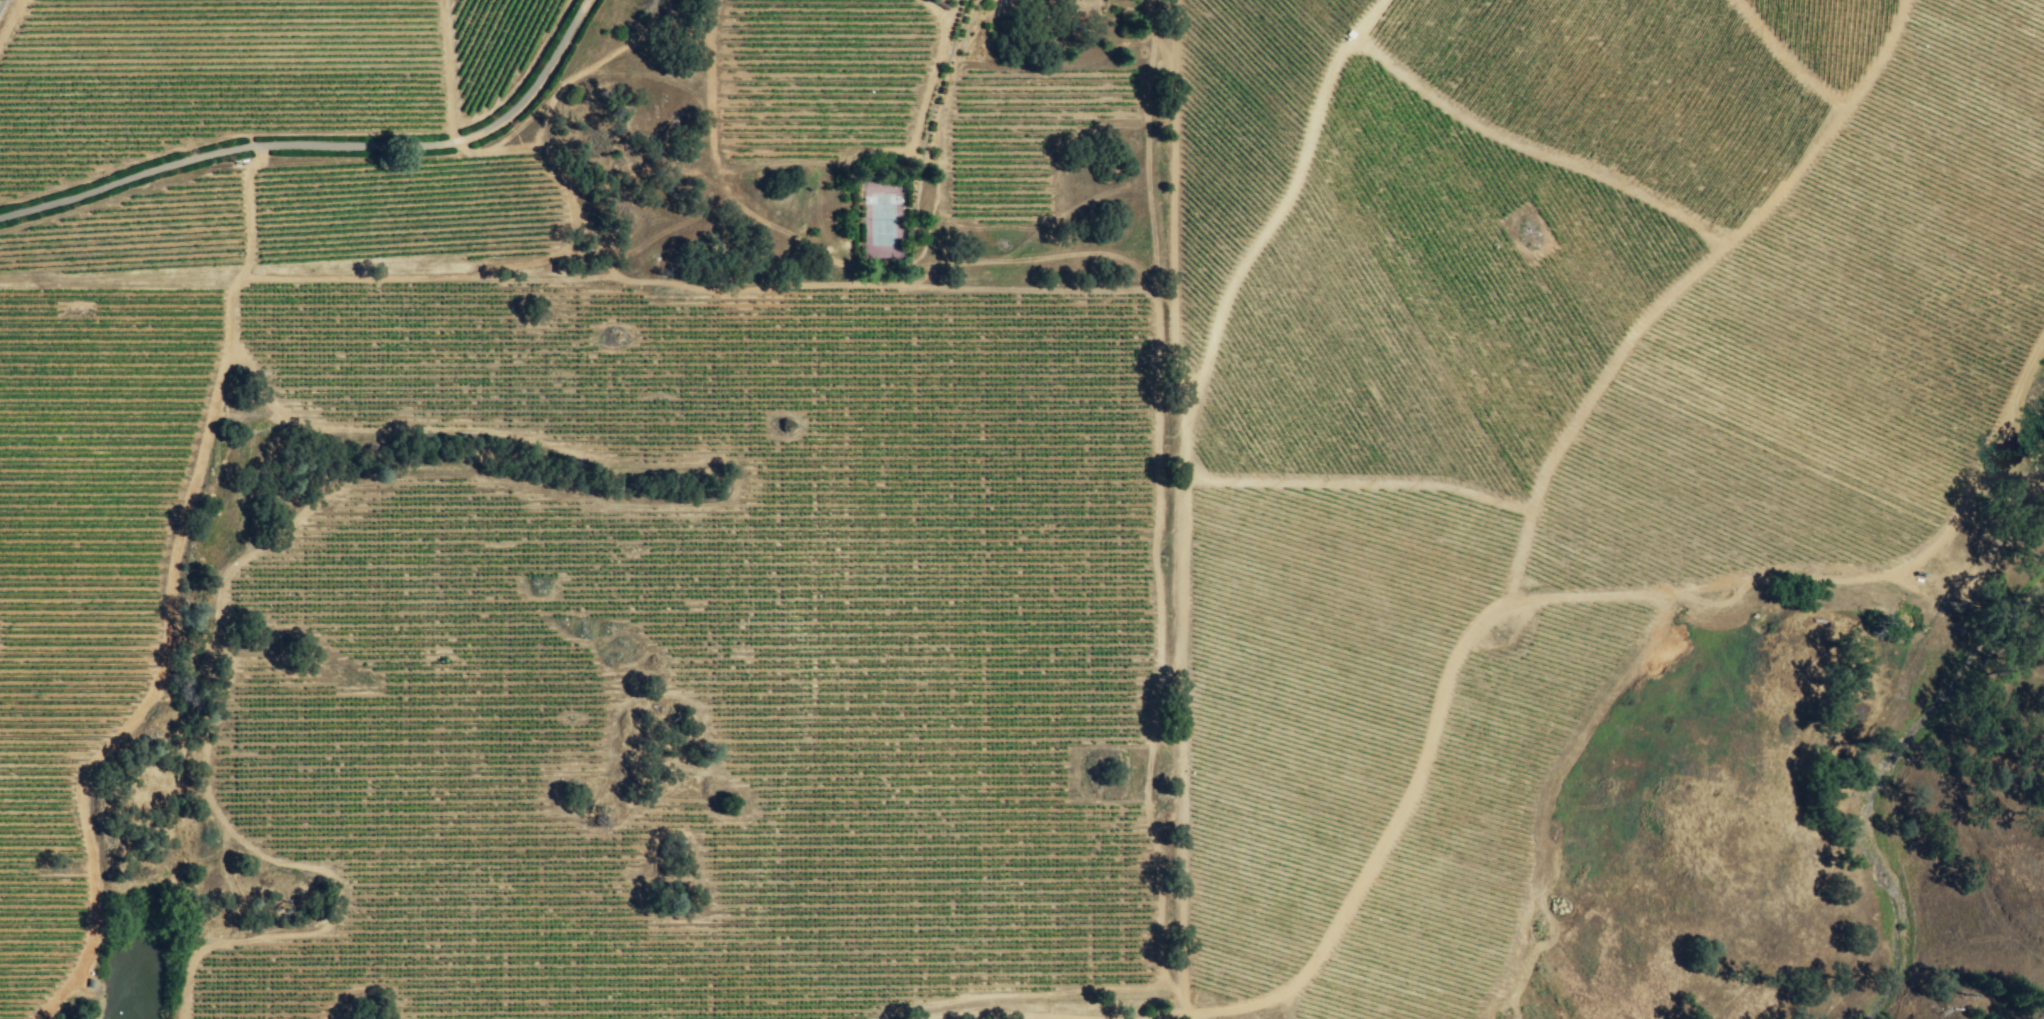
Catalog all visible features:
road: (323, 146)
road: (1078, 1017)

